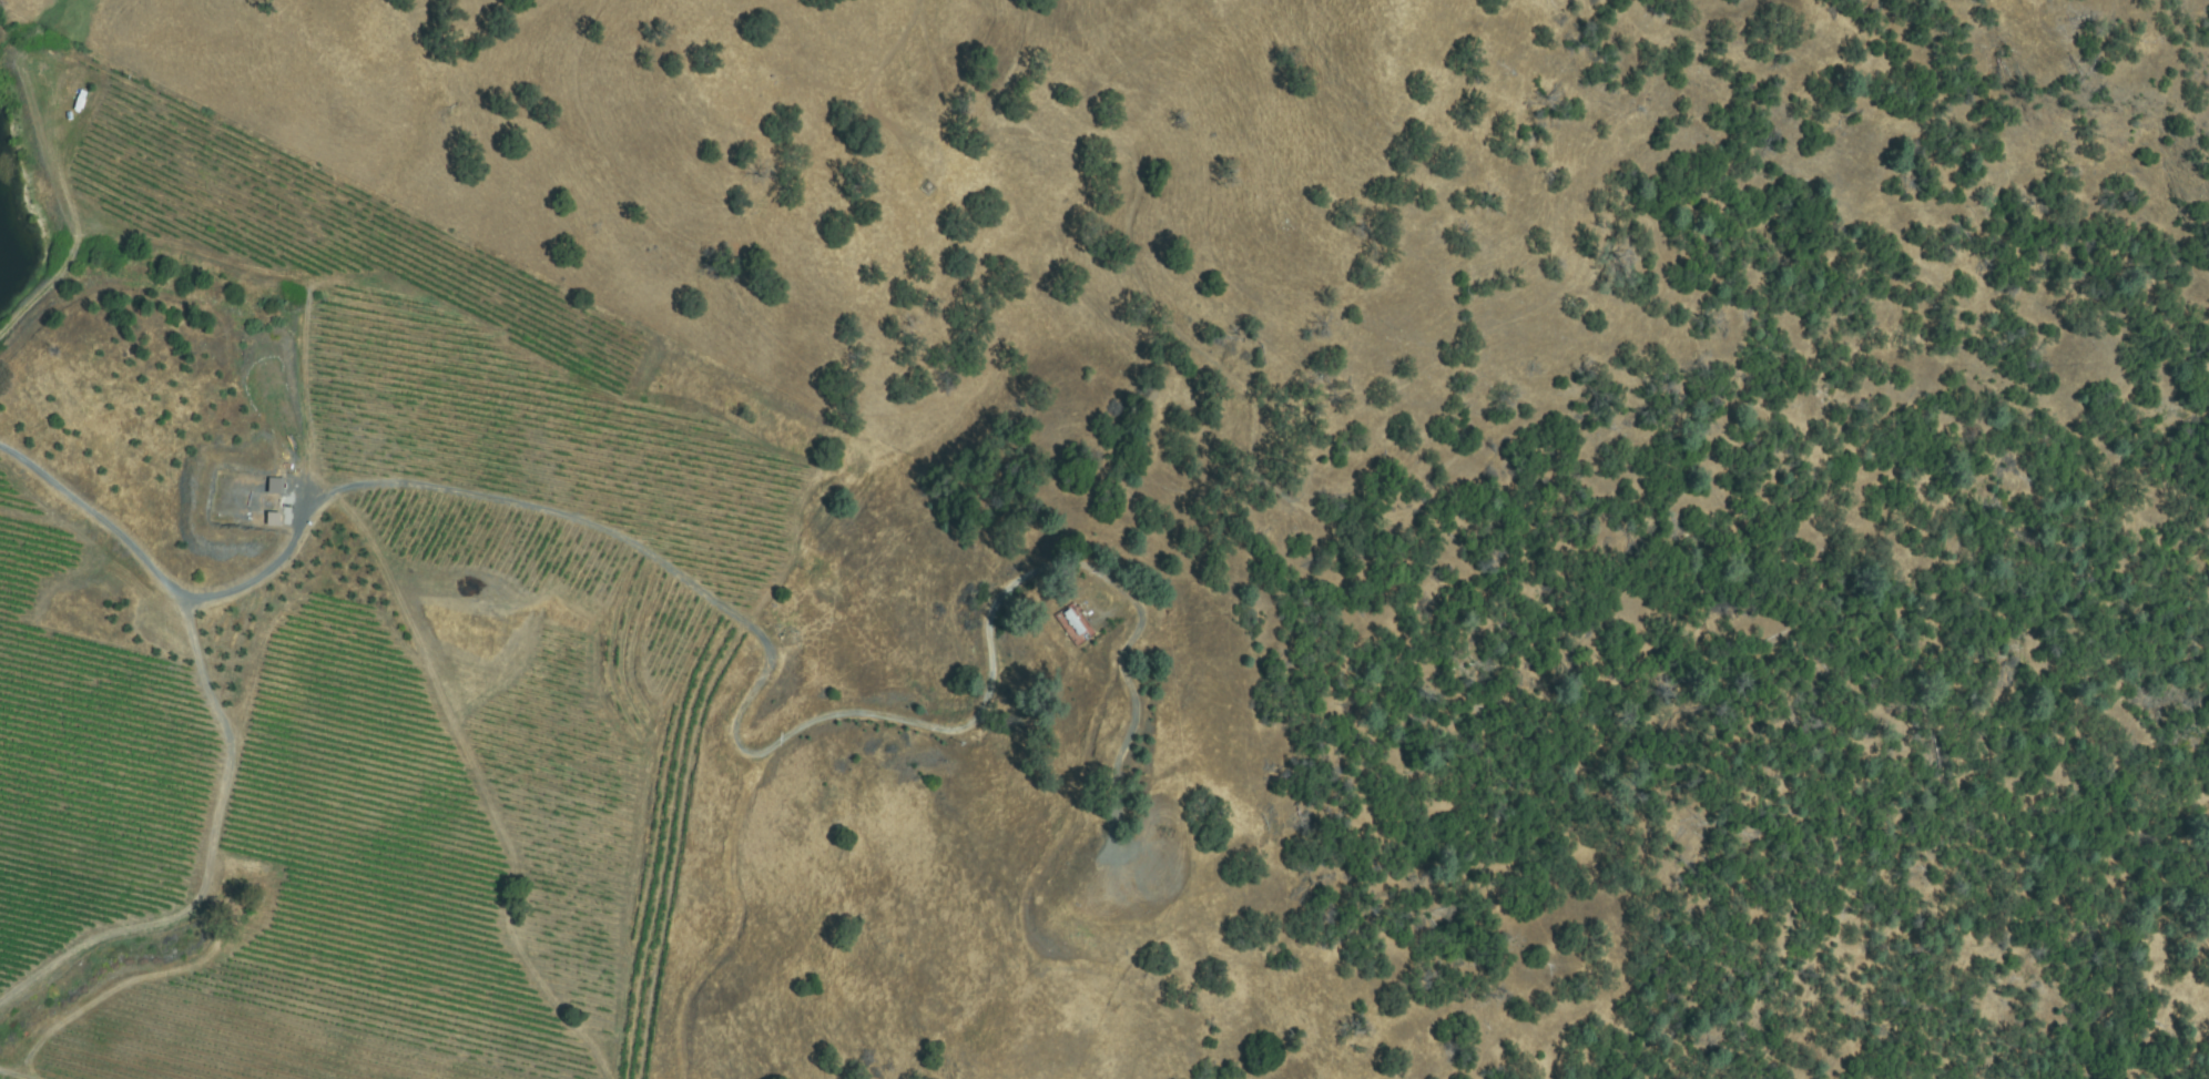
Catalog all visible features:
building: (1075, 621)

